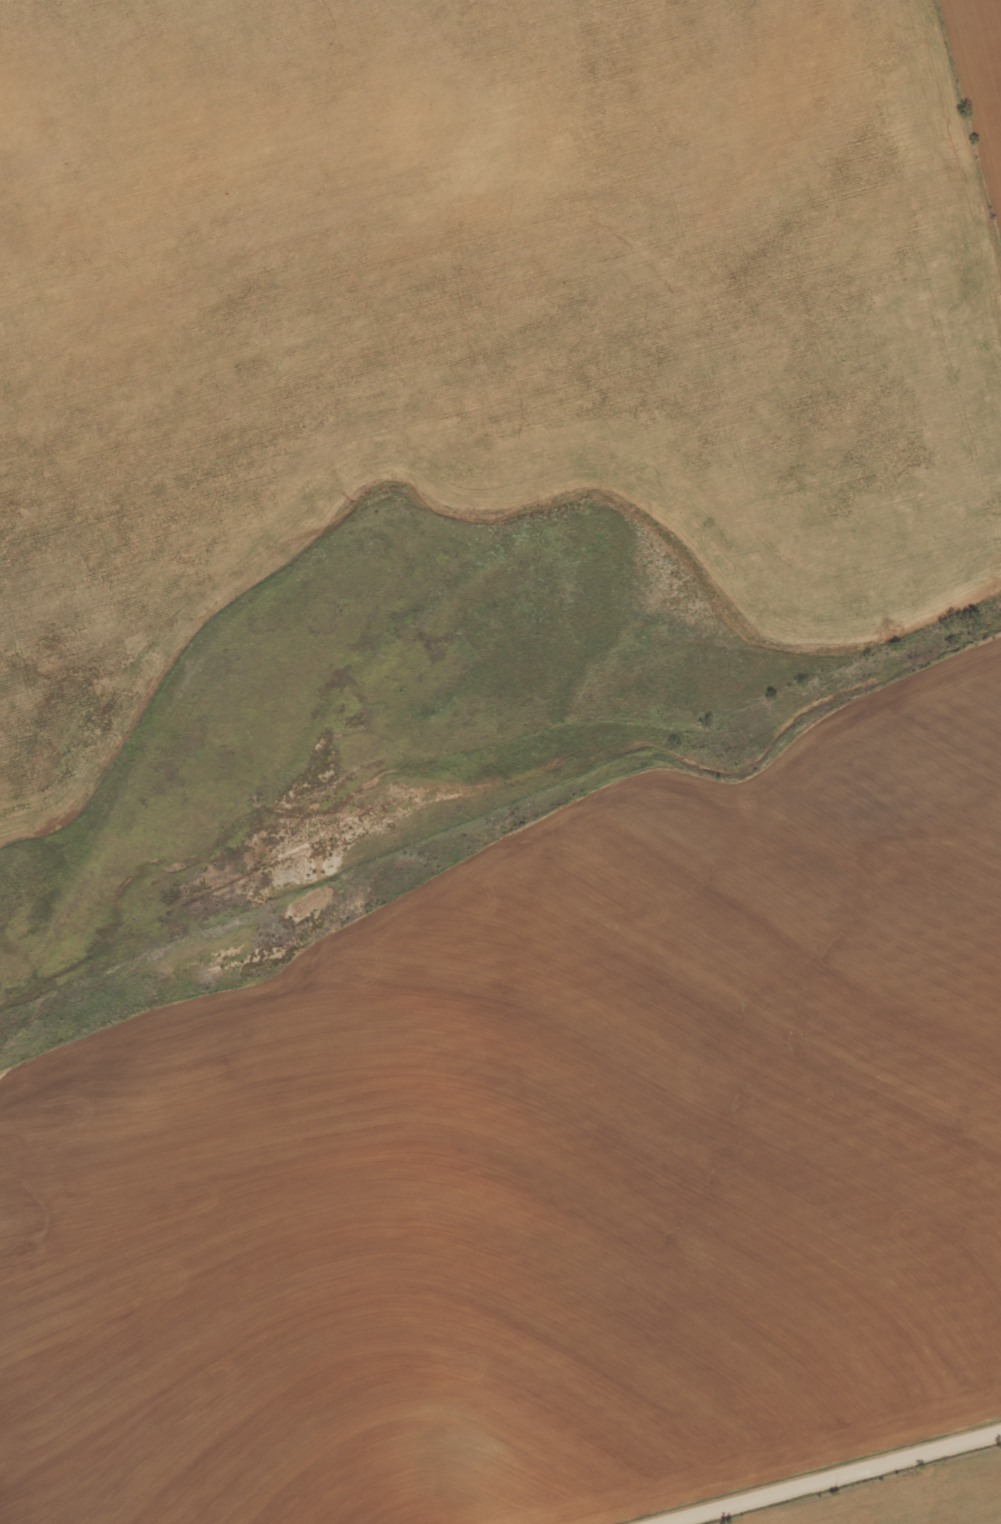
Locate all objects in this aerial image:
road: (858, 1486)

